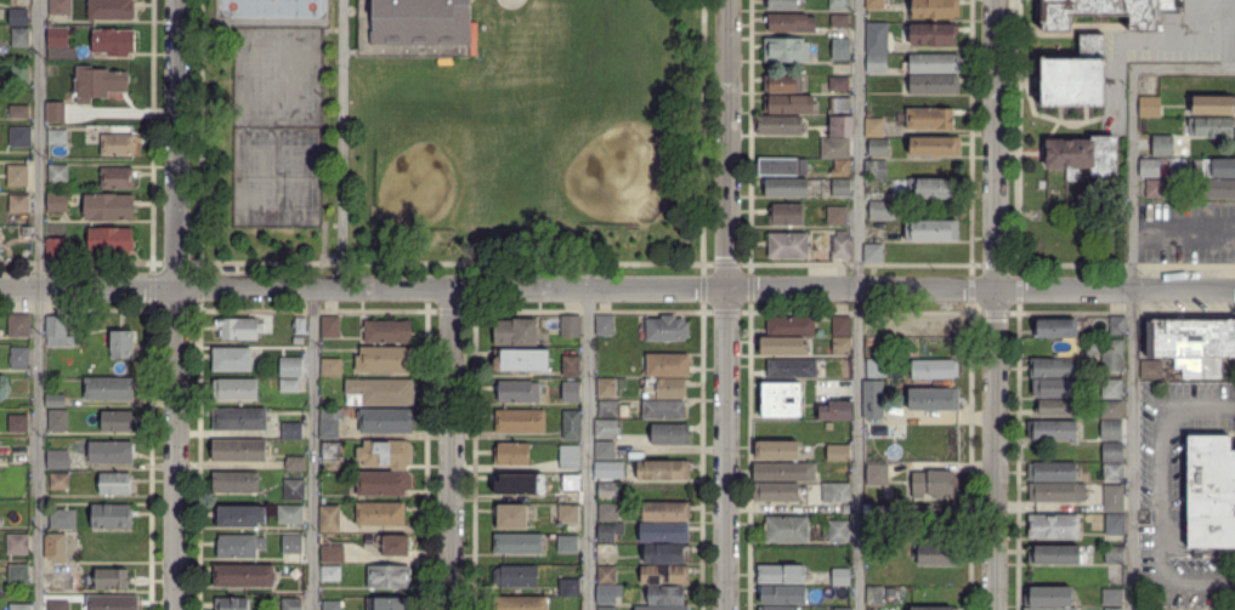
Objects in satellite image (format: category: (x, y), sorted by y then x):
building: (783, 4)
building: (874, 4)
building: (838, 5)
building: (58, 6)
park: (271, 8)
building: (935, 8)
building: (111, 10)
building: (1106, 12)
building: (17, 17)
building: (839, 21)
building: (420, 22)
building: (789, 24)
building: (931, 34)
building: (19, 36)
building: (57, 36)
building: (876, 36)
building: (113, 42)
building: (787, 50)
building: (840, 50)
building: (874, 61)
building: (934, 63)
road: (1184, 65)
building: (18, 74)
building: (1076, 75)
building: (100, 82)
building: (783, 84)
building: (838, 84)
building: (934, 85)
building: (1211, 104)
building: (788, 106)
building: (1149, 106)
building: (839, 107)
building: (18, 112)
building: (55, 112)
building: (930, 119)
park: (277, 126)
building: (778, 126)
building: (840, 126)
building: (873, 127)
building: (1209, 127)
road: (198, 131)
road: (702, 131)
building: (18, 136)
building: (56, 137)
park: (453, 137)
road: (175, 143)
road: (342, 143)
building: (117, 146)
building: (935, 147)
building: (1162, 147)
building: (834, 148)
building: (877, 148)
building: (1084, 154)
building: (777, 165)
building: (1150, 167)
building: (839, 169)
building: (1214, 169)
building: (874, 170)
park: (614, 172)
building: (58, 173)
building: (16, 175)
building: (117, 177)
park: (417, 186)
building: (786, 187)
building: (840, 188)
building: (931, 188)
building: (1155, 188)
building: (1218, 188)
building: (17, 203)
building: (56, 203)
building: (108, 207)
building: (883, 210)
building: (786, 215)
building: (837, 216)
building: (934, 230)
building: (24, 232)
building: (109, 241)
building: (787, 245)
building: (839, 246)
building: (55, 250)
building: (872, 252)
road: (449, 263)
road: (87, 286)
road: (704, 287)
road: (38, 304)
road: (727, 304)
road: (857, 304)
road: (995, 304)
building: (18, 325)
building: (605, 325)
building: (872, 325)
building: (1117, 325)
building: (301, 326)
building: (329, 326)
building: (570, 326)
building: (791, 326)
building: (842, 326)
building: (935, 326)
building: (239, 327)
building: (1056, 327)
building: (667, 329)
building: (57, 332)
building: (386, 332)
building: (514, 332)
road: (1132, 337)
building: (1191, 338)
building: (298, 341)
building: (121, 343)
building: (782, 346)
building: (842, 346)
building: (1107, 353)
building: (17, 358)
building: (231, 359)
building: (384, 359)
building: (522, 360)
building: (571, 365)
building: (668, 365)
building: (291, 366)
building: (330, 367)
building: (793, 367)
building: (1199, 367)
building: (876, 369)
building: (934, 369)
building: (1054, 369)
building: (1151, 369)
building: (845, 374)
building: (289, 384)
building: (17, 386)
building: (873, 386)
building: (606, 387)
building: (108, 388)
building: (667, 388)
building: (1060, 388)
building: (1112, 388)
building: (234, 389)
building: (571, 389)
building: (383, 392)
building: (517, 392)
building: (781, 392)
building: (934, 399)
building: (53, 400)
building: (872, 405)
building: (781, 407)
building: (1056, 407)
building: (607, 409)
building: (663, 409)
building: (1111, 409)
building: (834, 411)
building: (332, 414)
building: (239, 418)
building: (56, 420)
building: (386, 421)
building: (520, 421)
building: (115, 422)
building: (17, 423)
building: (571, 424)
building: (829, 426)
building: (329, 428)
building: (606, 428)
building: (1110, 428)
building: (291, 429)
building: (1052, 431)
building: (670, 434)
road: (175, 449)
road: (311, 449)
road: (449, 449)
road: (588, 449)
building: (605, 450)
building: (777, 450)
building: (239, 451)
building: (330, 451)
building: (837, 451)
building: (109, 452)
building: (1112, 452)
building: (385, 454)
building: (511, 454)
building: (570, 457)
building: (56, 460)
building: (296, 463)
building: (827, 467)
building: (604, 469)
building: (663, 471)
building: (784, 472)
building: (1052, 472)
building: (1112, 473)
building: (877, 474)
building: (58, 481)
building: (234, 481)
building: (384, 483)
building: (570, 483)
building: (931, 483)
building: (113, 484)
building: (519, 484)
building: (294, 490)
building: (607, 491)
building: (776, 491)
building: (835, 491)
building: (1211, 491)
building: (1056, 492)
building: (1114, 497)
road: (1167, 497)
parking lot: (1177, 497)
building: (865, 508)
building: (607, 512)
building: (667, 512)
building: (902, 512)
building: (928, 512)
building: (289, 514)
building: (380, 514)
building: (568, 514)
building: (111, 515)
building: (240, 515)
building: (511, 517)
building: (62, 519)
building: (329, 519)
building: (0, 520)
building: (1114, 525)
building: (1053, 526)
building: (912, 528)
building: (786, 529)
building: (605, 530)
building: (838, 531)
building: (877, 531)
building: (928, 531)
building: (664, 532)
building: (517, 543)
building: (567, 543)
building: (16, 545)
building: (291, 545)
building: (397, 545)
building: (238, 546)
building: (55, 547)
building: (607, 553)
building: (665, 553)
building: (333, 554)
building: (934, 554)
building: (1054, 554)
building: (1114, 555)
building: (330, 572)
building: (664, 574)
building: (18, 575)
building: (243, 575)
building: (606, 575)
building: (781, 575)
building: (389, 576)
building: (516, 576)
building: (840, 577)
building: (111, 578)
building: (57, 582)
building: (568, 587)
building: (607, 593)
building: (782, 594)
building: (874, 594)
building: (665, 595)
building: (1050, 597)
building: (1111, 598)
building: (111, 603)
building: (520, 603)
building: (231, 604)
building: (290, 604)
building: (386, 604)
building: (18, 605)
building: (57, 605)
building: (330, 605)
building: (662, 608)
building: (606, 609)
building: (778, 609)
building: (844, 609)
building: (869, 609)
building: (935, 609)
building: (1049, 609)
building: (1114, 609)

